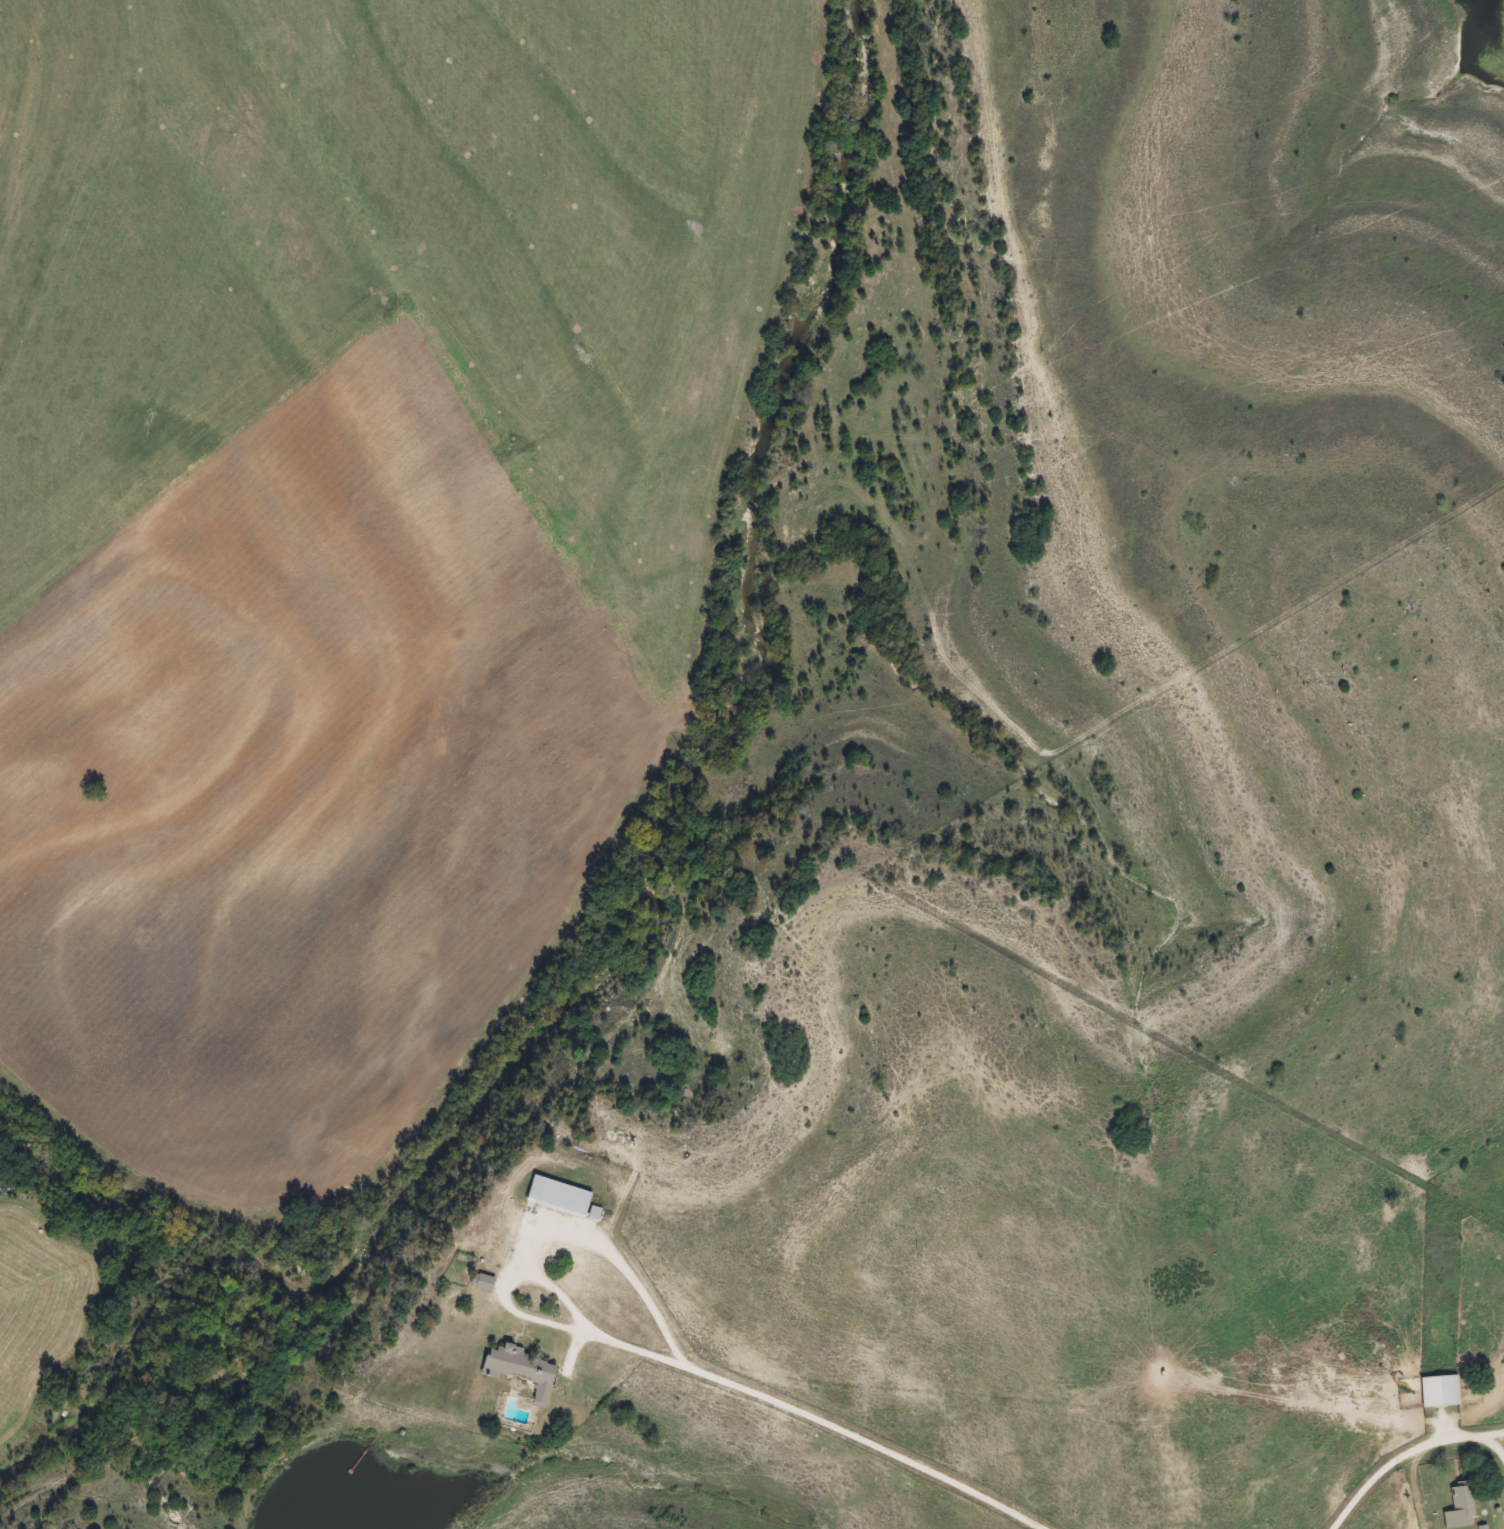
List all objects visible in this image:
building: (558, 1198)
building: (484, 1282)
building: (522, 1370)
building: (1439, 1391)
road: (779, 1397)
road: (1492, 1432)
road: (1411, 1452)
building: (1459, 1507)

